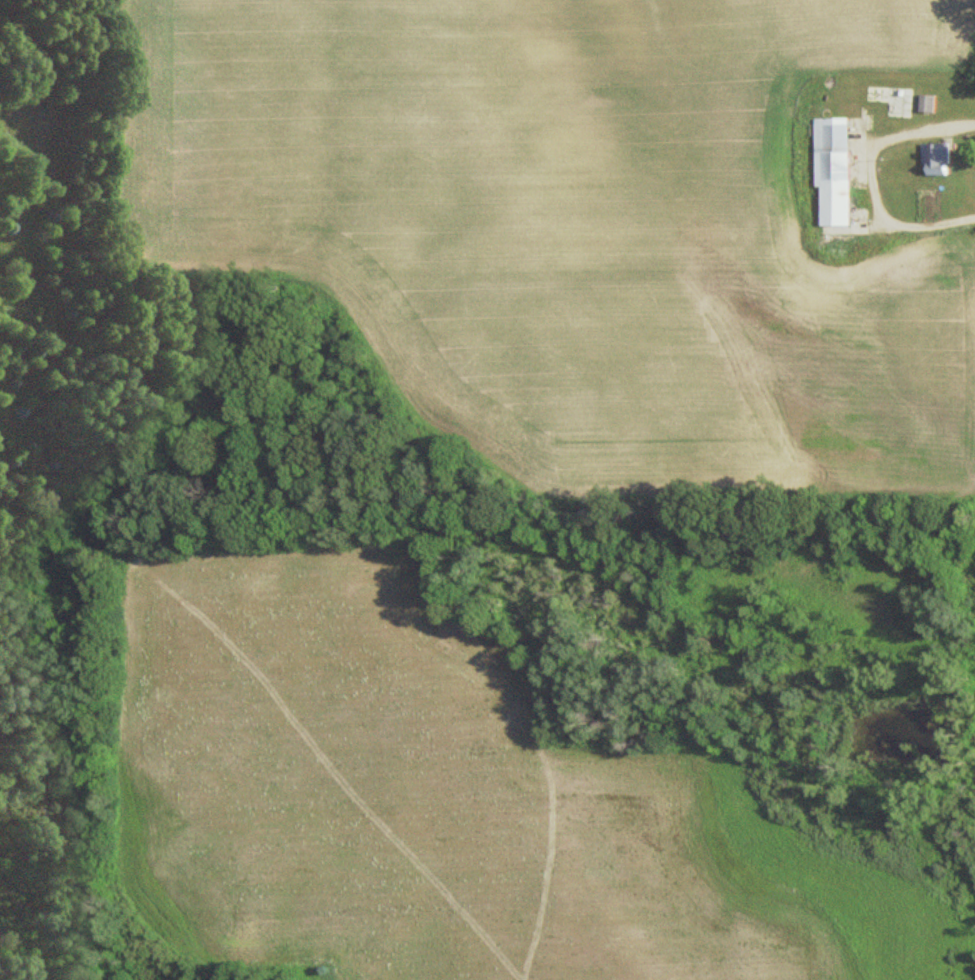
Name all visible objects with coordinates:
building: (929, 103)
building: (892, 105)
building: (937, 158)
building: (836, 172)
road: (871, 177)

